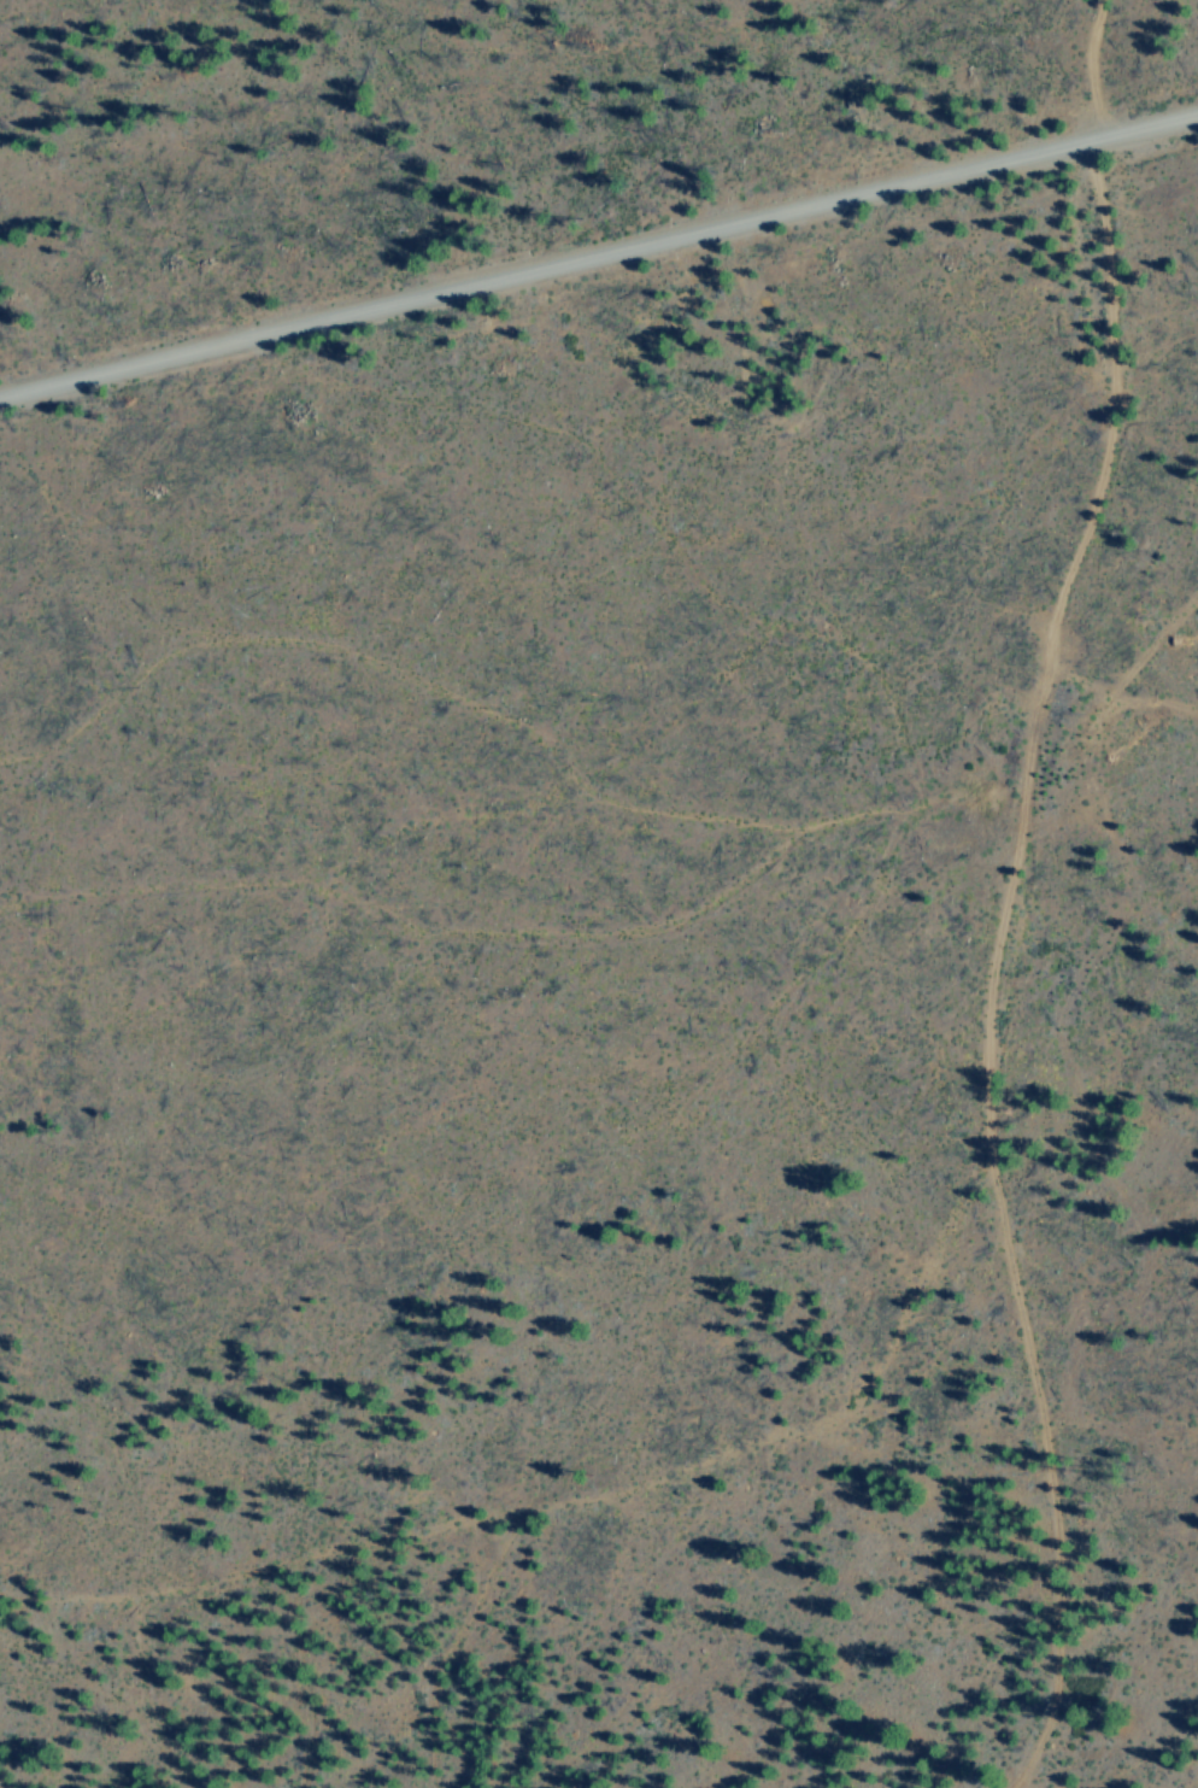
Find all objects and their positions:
road: (597, 212)

